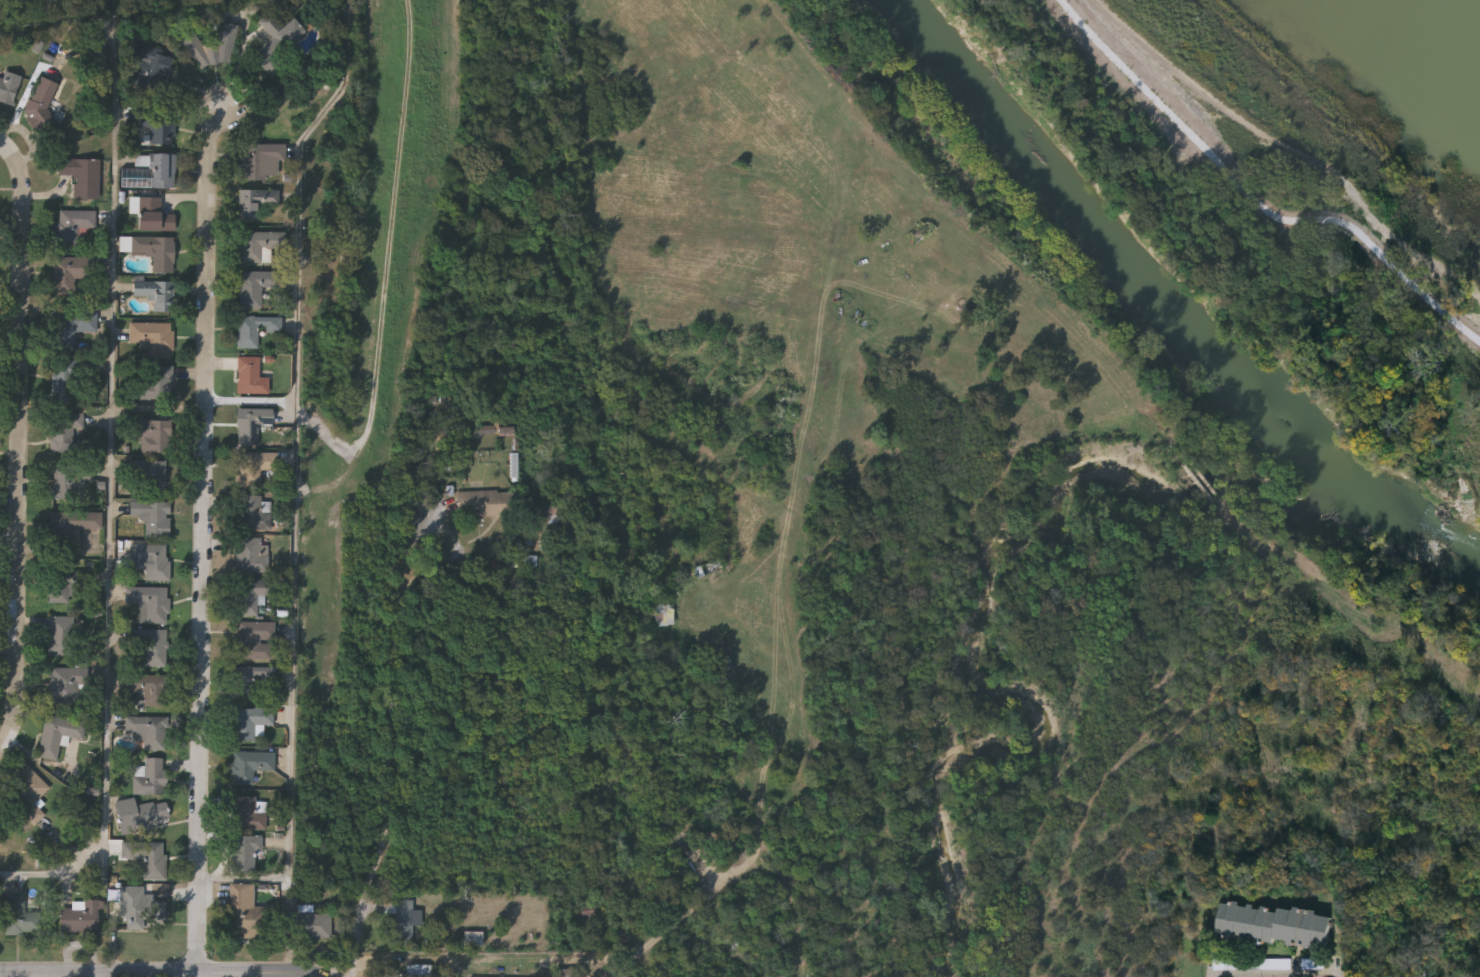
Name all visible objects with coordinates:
building: (276, 38)
road: (244, 41)
building: (212, 46)
building: (153, 61)
building: (8, 87)
building: (39, 100)
building: (159, 127)
building: (261, 160)
building: (152, 171)
building: (81, 176)
building: (256, 202)
building: (153, 215)
road: (1240, 219)
building: (73, 224)
building: (259, 246)
building: (156, 251)
building: (69, 273)
building: (257, 289)
building: (155, 293)
river: (1163, 311)
building: (255, 328)
building: (69, 331)
building: (153, 337)
building: (250, 376)
building: (63, 381)
building: (157, 383)
road: (250, 402)
building: (251, 424)
building: (486, 429)
building: (63, 436)
building: (153, 436)
road: (19, 448)
building: (255, 466)
building: (153, 477)
road: (297, 478)
building: (63, 481)
building: (485, 502)
road: (110, 509)
building: (249, 511)
building: (562, 519)
building: (155, 520)
building: (71, 526)
road: (202, 541)
building: (251, 555)
building: (152, 561)
building: (708, 568)
building: (65, 583)
building: (677, 584)
building: (251, 594)
building: (150, 605)
building: (61, 636)
building: (254, 640)
building: (156, 648)
building: (723, 664)
building: (251, 681)
building: (67, 685)
building: (152, 689)
building: (250, 721)
road: (392, 724)
building: (148, 730)
building: (58, 733)
building: (251, 765)
building: (30, 783)
building: (145, 796)
building: (248, 813)
road: (759, 822)
building: (0, 828)
building: (244, 852)
building: (147, 858)
building: (140, 908)
building: (584, 911)
building: (245, 913)
building: (19, 916)
building: (79, 918)
building: (404, 923)
building: (308, 925)
building: (1274, 926)
building: (474, 939)
building: (416, 971)

